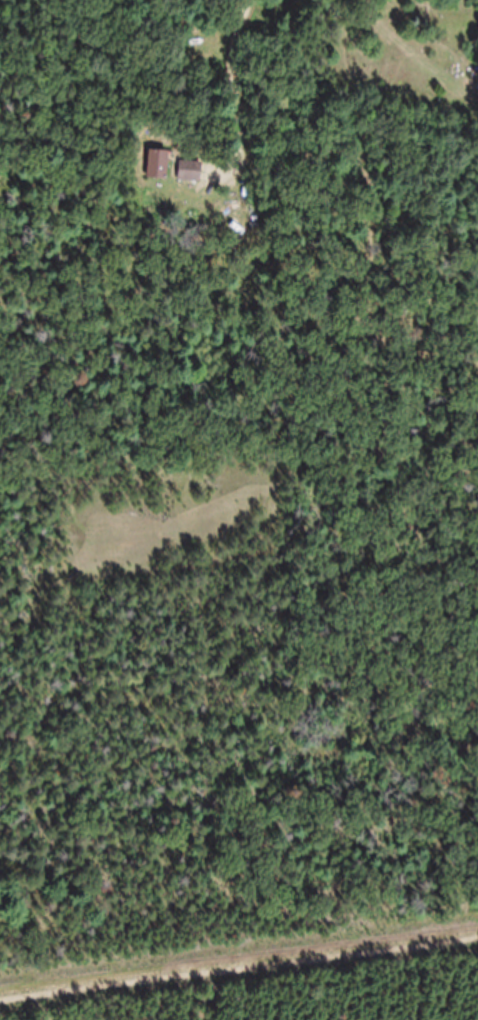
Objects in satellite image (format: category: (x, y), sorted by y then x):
building: (383, 0)
building: (159, 175)
building: (191, 182)

